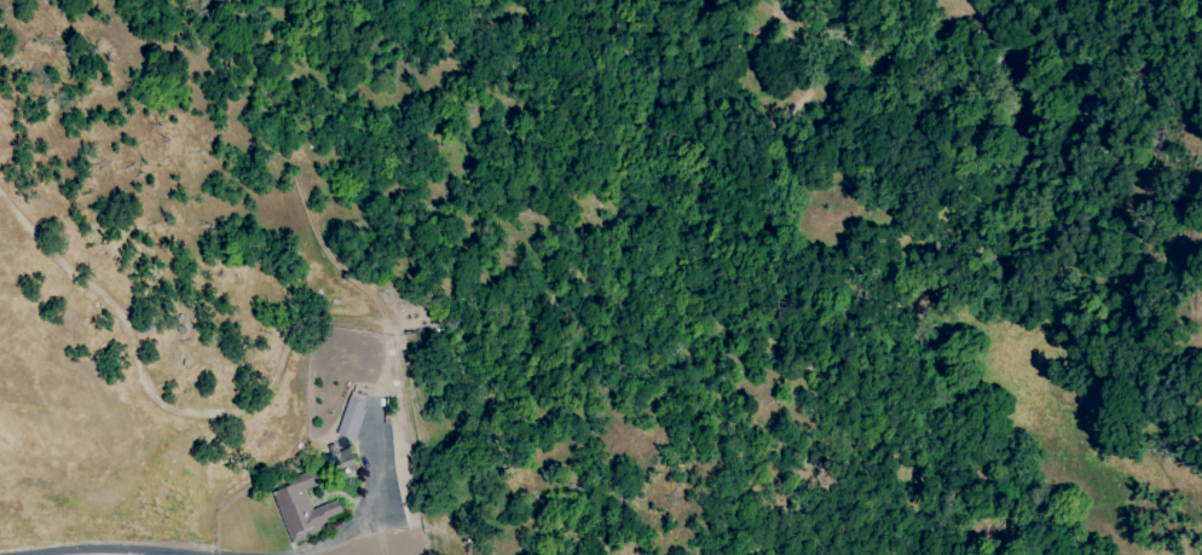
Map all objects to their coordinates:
building: (351, 417)
building: (342, 456)
building: (301, 508)
road: (310, 547)
road: (141, 553)

